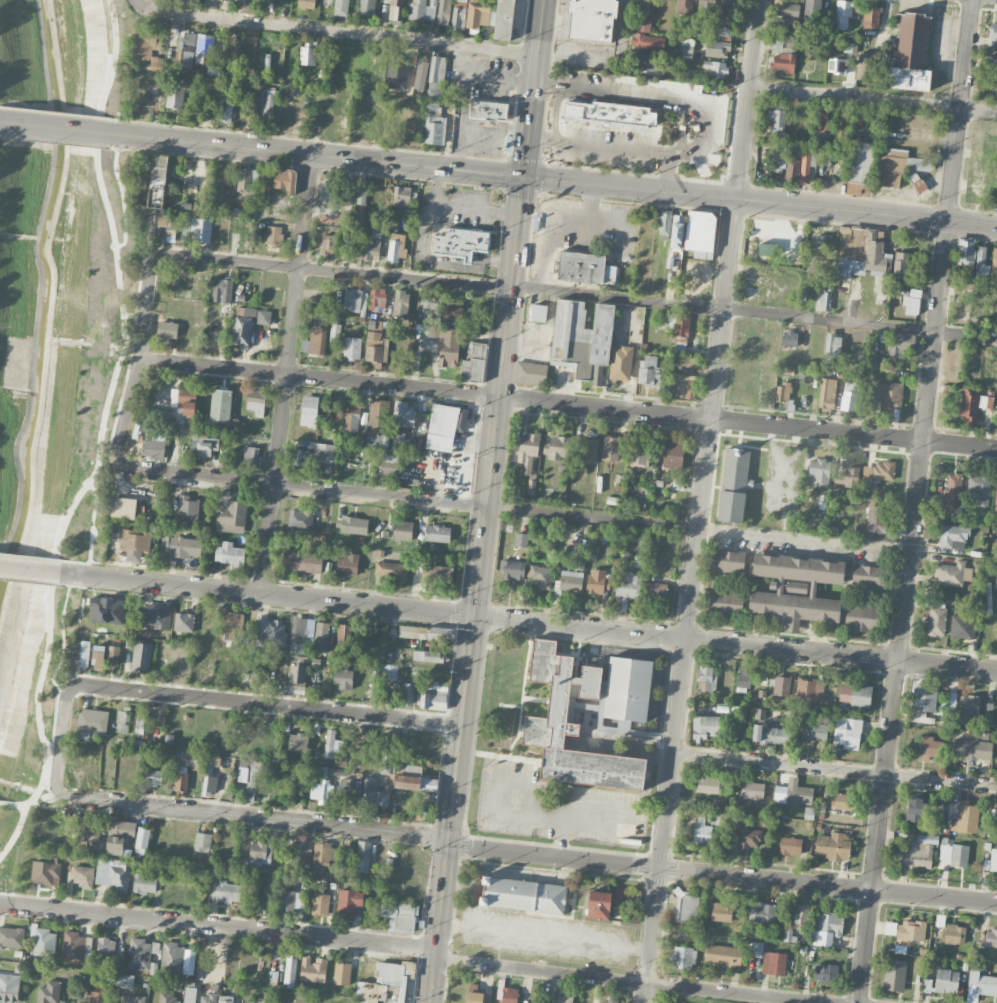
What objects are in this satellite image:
building: (247, 0)
building: (268, 1)
building: (328, 1)
building: (642, 3)
building: (306, 4)
building: (684, 6)
building: (341, 7)
building: (367, 7)
building: (706, 7)
building: (727, 8)
building: (785, 8)
building: (812, 8)
building: (396, 9)
building: (422, 10)
building: (444, 12)
building: (843, 13)
building: (459, 14)
building: (477, 15)
building: (871, 16)
building: (504, 19)
building: (591, 19)
road: (623, 24)
building: (646, 24)
building: (724, 31)
building: (993, 32)
road: (334, 33)
building: (147, 41)
building: (648, 42)
building: (791, 44)
building: (850, 47)
building: (204, 48)
building: (185, 49)
building: (717, 49)
building: (910, 53)
building: (307, 55)
building: (643, 62)
building: (783, 62)
building: (836, 64)
building: (991, 64)
building: (865, 65)
building: (716, 68)
building: (421, 74)
building: (436, 76)
road: (486, 76)
building: (175, 95)
road: (656, 97)
road: (874, 99)
building: (252, 105)
building: (269, 105)
building: (226, 107)
building: (488, 110)
road: (556, 113)
building: (609, 114)
building: (777, 119)
building: (821, 120)
road: (0, 121)
road: (463, 121)
building: (434, 124)
road: (50, 126)
road: (617, 147)
building: (778, 157)
building: (861, 161)
building: (806, 166)
building: (900, 167)
building: (792, 170)
traffic signals: (524, 176)
road: (548, 178)
building: (247, 179)
building: (284, 179)
building: (265, 185)
building: (160, 192)
building: (362, 193)
building: (401, 196)
building: (996, 196)
road: (460, 205)
building: (664, 222)
building: (201, 229)
building: (677, 231)
building: (700, 233)
building: (274, 235)
building: (461, 243)
building: (328, 244)
building: (373, 244)
building: (395, 247)
building: (766, 249)
building: (849, 252)
road: (429, 255)
building: (877, 255)
building: (965, 256)
road: (499, 261)
building: (981, 263)
building: (901, 265)
building: (993, 266)
building: (583, 267)
road: (337, 271)
building: (222, 290)
building: (915, 292)
building: (377, 298)
building: (355, 299)
building: (823, 299)
road: (146, 302)
building: (400, 303)
building: (911, 305)
building: (430, 308)
building: (960, 308)
building: (452, 309)
building: (538, 312)
road: (754, 312)
building: (247, 324)
building: (166, 329)
building: (679, 330)
building: (335, 332)
building: (581, 336)
building: (315, 338)
building: (789, 338)
building: (898, 343)
building: (833, 345)
building: (352, 347)
building: (449, 347)
building: (374, 348)
park: (55, 353)
building: (474, 362)
building: (688, 362)
building: (650, 371)
building: (530, 373)
road: (286, 374)
building: (685, 385)
building: (782, 392)
building: (827, 394)
building: (890, 395)
building: (849, 396)
building: (256, 400)
road: (568, 404)
building: (220, 405)
building: (973, 405)
building: (179, 406)
road: (126, 411)
building: (308, 411)
building: (379, 412)
building: (403, 414)
building: (353, 417)
building: (445, 426)
road: (101, 438)
building: (398, 439)
building: (377, 440)
building: (205, 445)
building: (558, 447)
building: (152, 448)
building: (610, 448)
building: (589, 449)
building: (527, 451)
building: (324, 454)
building: (673, 454)
building: (303, 455)
building: (250, 456)
building: (639, 456)
building: (388, 465)
building: (818, 471)
building: (876, 475)
building: (847, 476)
building: (734, 485)
building: (531, 486)
road: (303, 487)
building: (979, 489)
building: (952, 491)
building: (996, 493)
road: (487, 501)
road: (704, 501)
road: (917, 501)
building: (124, 507)
building: (187, 507)
building: (232, 516)
road: (594, 517)
building: (876, 517)
building: (300, 519)
building: (354, 525)
building: (402, 530)
building: (437, 533)
building: (952, 536)
building: (521, 539)
road: (806, 539)
building: (134, 543)
building: (185, 547)
building: (228, 554)
building: (302, 561)
building: (729, 561)
building: (347, 565)
road: (30, 569)
building: (512, 569)
building: (391, 570)
building: (952, 573)
building: (436, 574)
building: (867, 575)
building: (541, 576)
building: (996, 580)
building: (598, 581)
building: (567, 584)
building: (628, 584)
building: (795, 589)
building: (655, 591)
building: (725, 601)
building: (156, 615)
traffic signals: (474, 617)
building: (861, 618)
building: (936, 621)
building: (183, 622)
road: (528, 622)
building: (963, 624)
building: (230, 627)
building: (270, 632)
building: (425, 632)
building: (298, 635)
building: (323, 638)
building: (344, 638)
building: (84, 650)
building: (105, 655)
building: (141, 656)
building: (428, 656)
building: (389, 671)
building: (706, 677)
building: (743, 677)
building: (342, 678)
building: (297, 679)
building: (781, 685)
building: (810, 688)
building: (628, 689)
building: (408, 694)
building: (855, 694)
building: (434, 695)
road: (212, 698)
building: (923, 701)
building: (949, 703)
building: (968, 707)
building: (123, 720)
building: (92, 723)
building: (142, 725)
building: (572, 725)
building: (705, 727)
building: (628, 728)
building: (814, 732)
building: (847, 733)
building: (771, 735)
building: (298, 742)
building: (333, 744)
building: (389, 747)
building: (929, 748)
building: (972, 749)
building: (193, 760)
building: (297, 768)
road: (836, 769)
building: (319, 771)
building: (210, 773)
building: (154, 777)
building: (181, 778)
building: (413, 778)
building: (708, 784)
building: (752, 789)
building: (318, 791)
building: (349, 791)
building: (793, 793)
building: (373, 794)
building: (841, 801)
road: (4, 803)
road: (38, 804)
building: (917, 809)
road: (494, 813)
building: (809, 813)
road: (252, 817)
building: (966, 817)
building: (996, 818)
building: (701, 831)
building: (87, 833)
building: (119, 835)
building: (143, 836)
building: (749, 838)
traffic signals: (449, 841)
building: (202, 842)
building: (790, 845)
building: (832, 846)
building: (303, 853)
building: (321, 853)
building: (260, 854)
building: (347, 854)
building: (363, 856)
building: (953, 856)
building: (991, 861)
building: (45, 873)
building: (81, 875)
building: (113, 875)
road: (722, 875)
building: (144, 883)
building: (288, 884)
building: (226, 891)
building: (621, 894)
building: (523, 895)
building: (290, 901)
building: (320, 903)
building: (349, 903)
building: (599, 905)
building: (686, 907)
building: (721, 911)
building: (761, 912)
building: (801, 913)
building: (399, 916)
road: (218, 926)
building: (827, 928)
building: (890, 928)
building: (911, 931)
building: (954, 934)
building: (12, 937)
building: (989, 938)
building: (42, 946)
building: (73, 947)
building: (106, 947)
building: (756, 949)
building: (141, 953)
building: (723, 955)
building: (172, 957)
building: (683, 957)
building: (774, 963)
building: (313, 969)
building: (290, 971)
building: (825, 972)
building: (342, 973)
building: (973, 974)
building: (894, 975)
building: (273, 978)
building: (124, 980)
building: (946, 980)
road: (624, 981)
building: (384, 984)
building: (927, 985)
building: (986, 985)
building: (9, 987)
building: (48, 992)
building: (190, 995)
building: (476, 995)
building: (509, 995)
building: (97, 997)
building: (168, 997)
building: (208, 998)
building: (563, 998)
building: (132, 999)
building: (225, 999)
building: (606, 1001)

